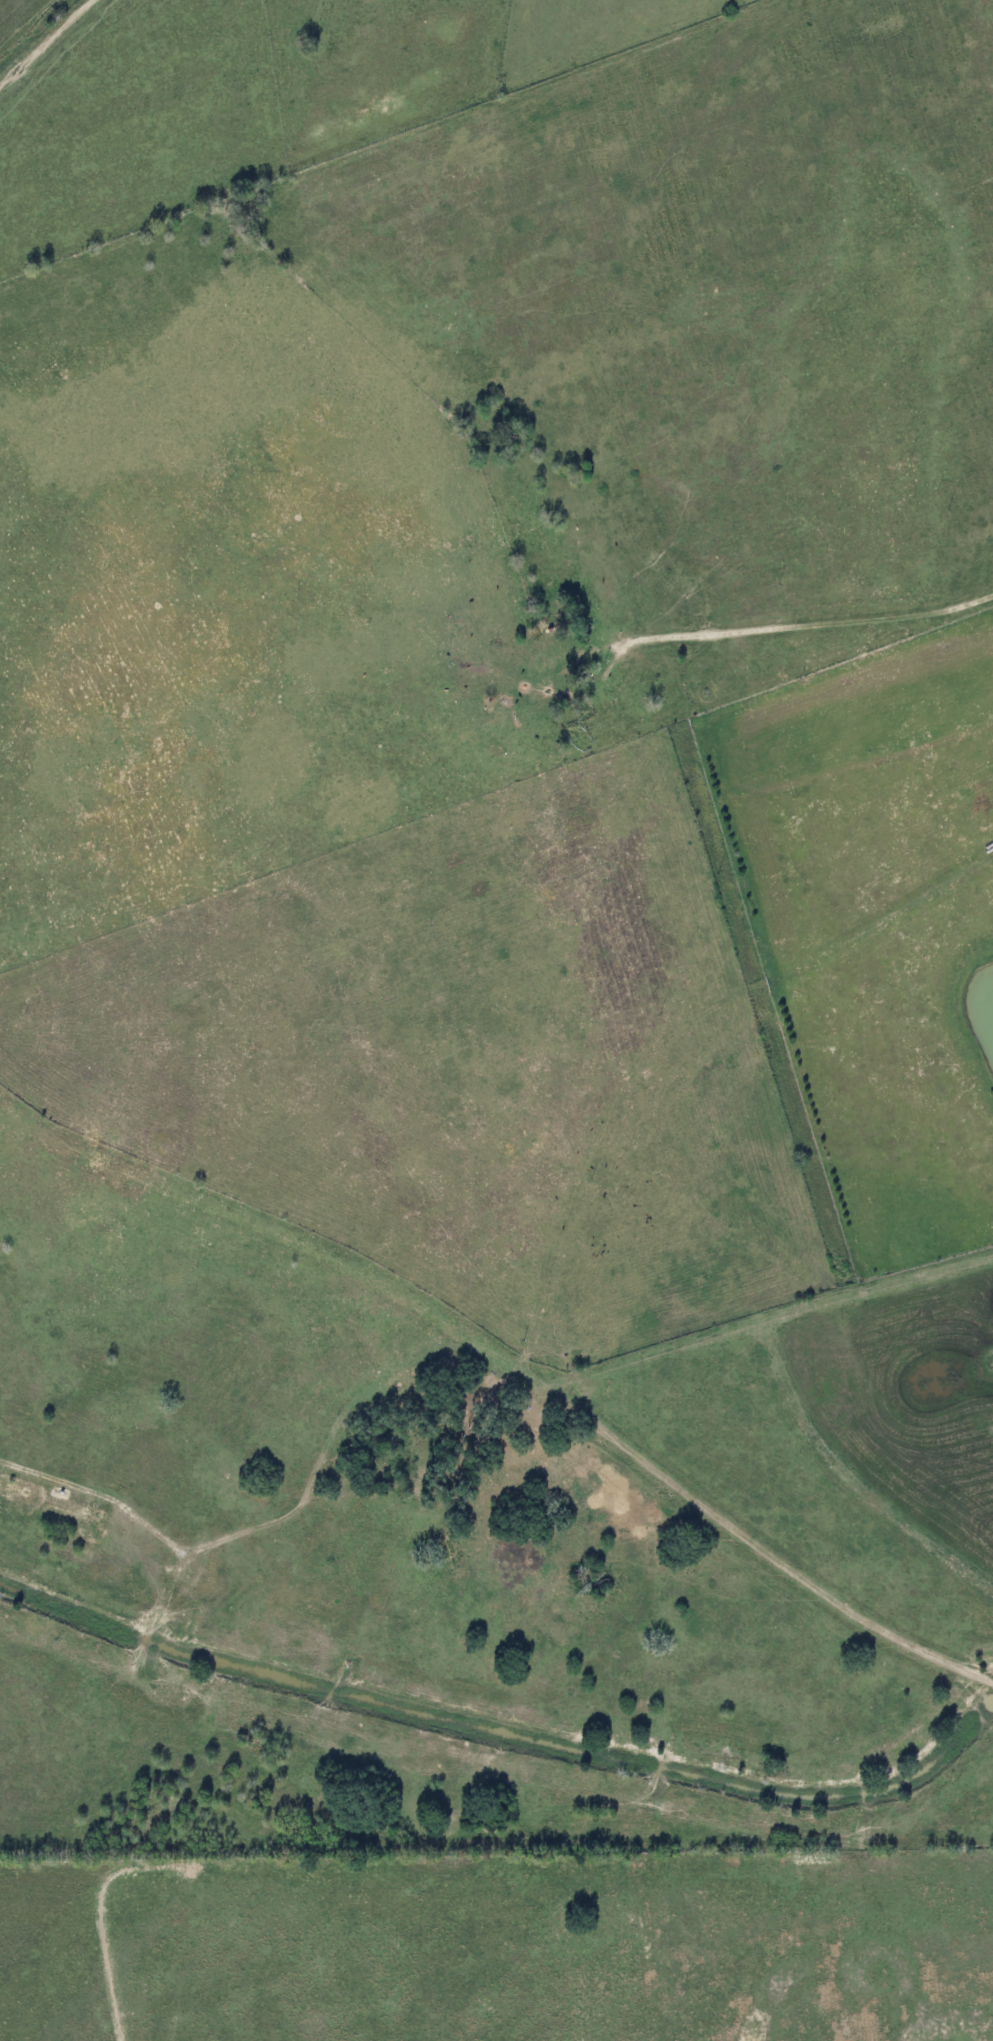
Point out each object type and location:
road: (105, 1497)

